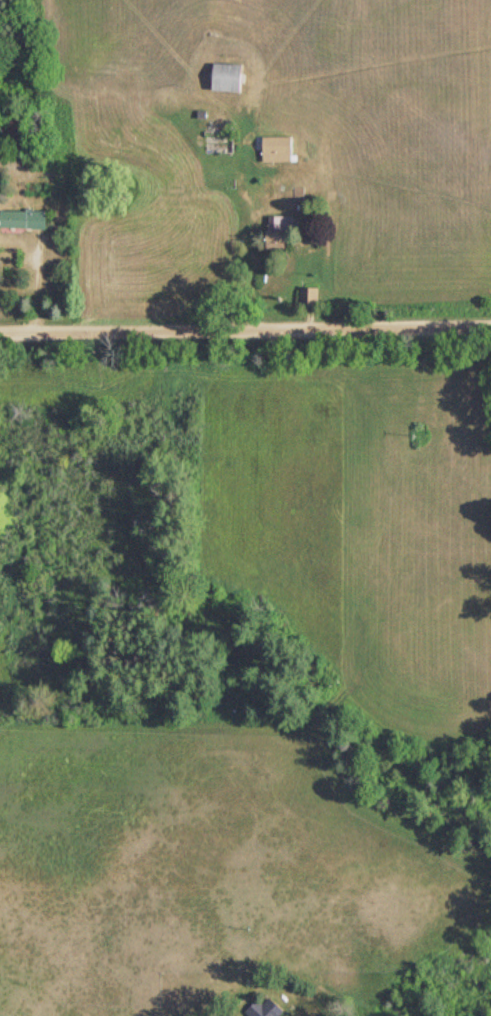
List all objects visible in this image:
building: (221, 78)
crop: (343, 107)
building: (273, 149)
building: (20, 220)
building: (275, 232)
road: (245, 313)
building: (261, 1008)

